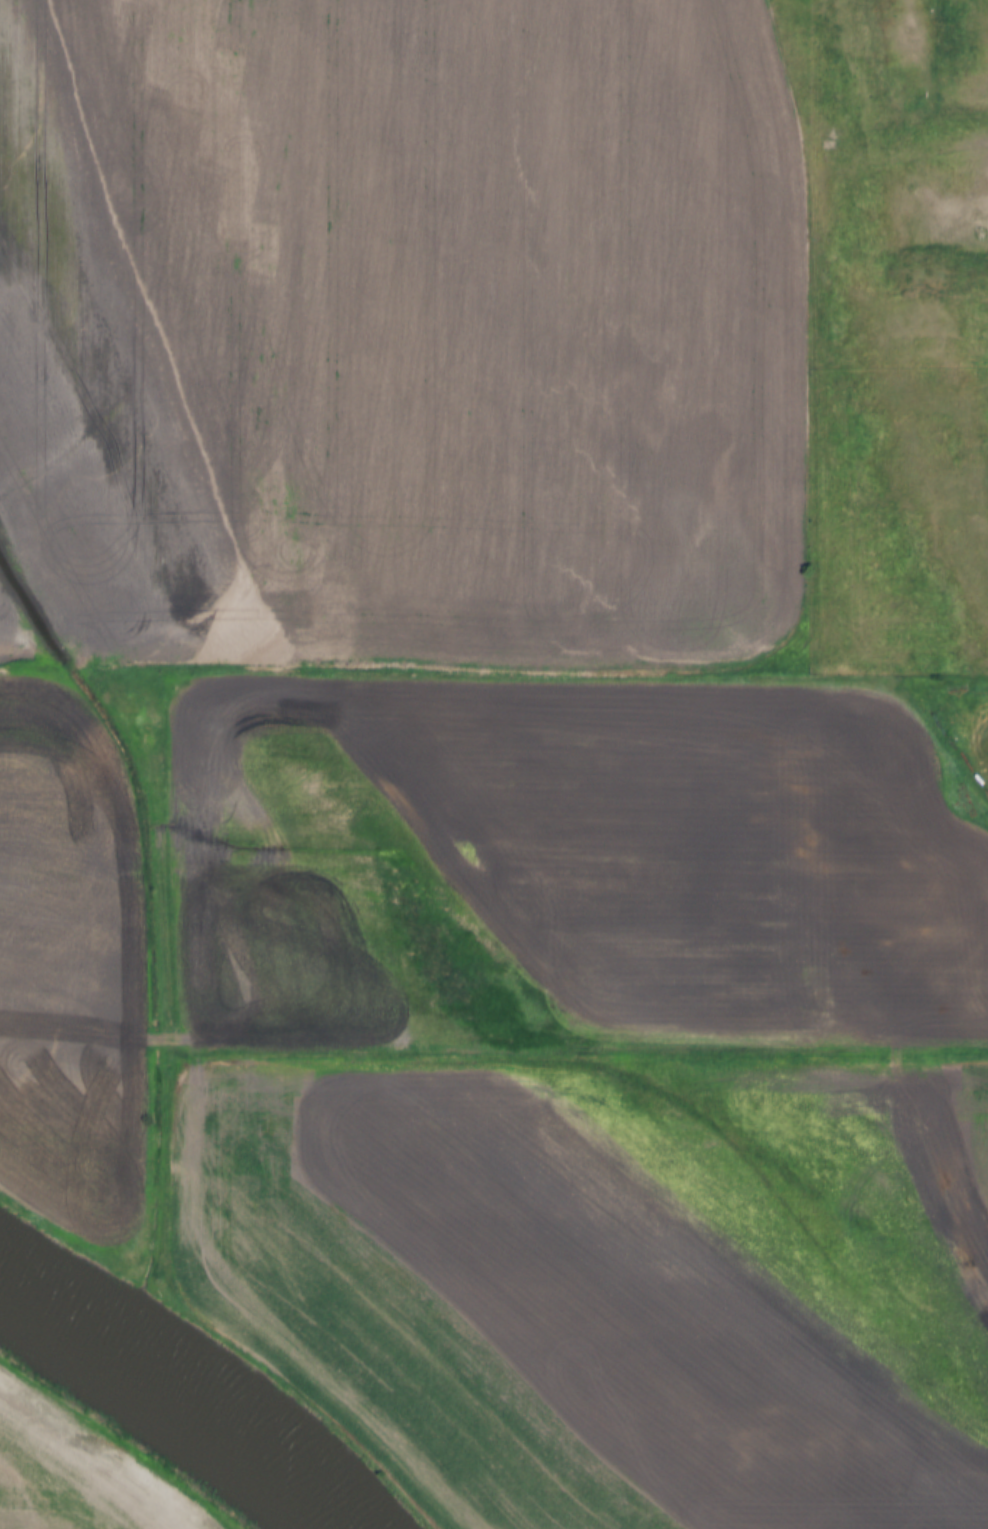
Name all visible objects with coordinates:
river: (178, 1388)

